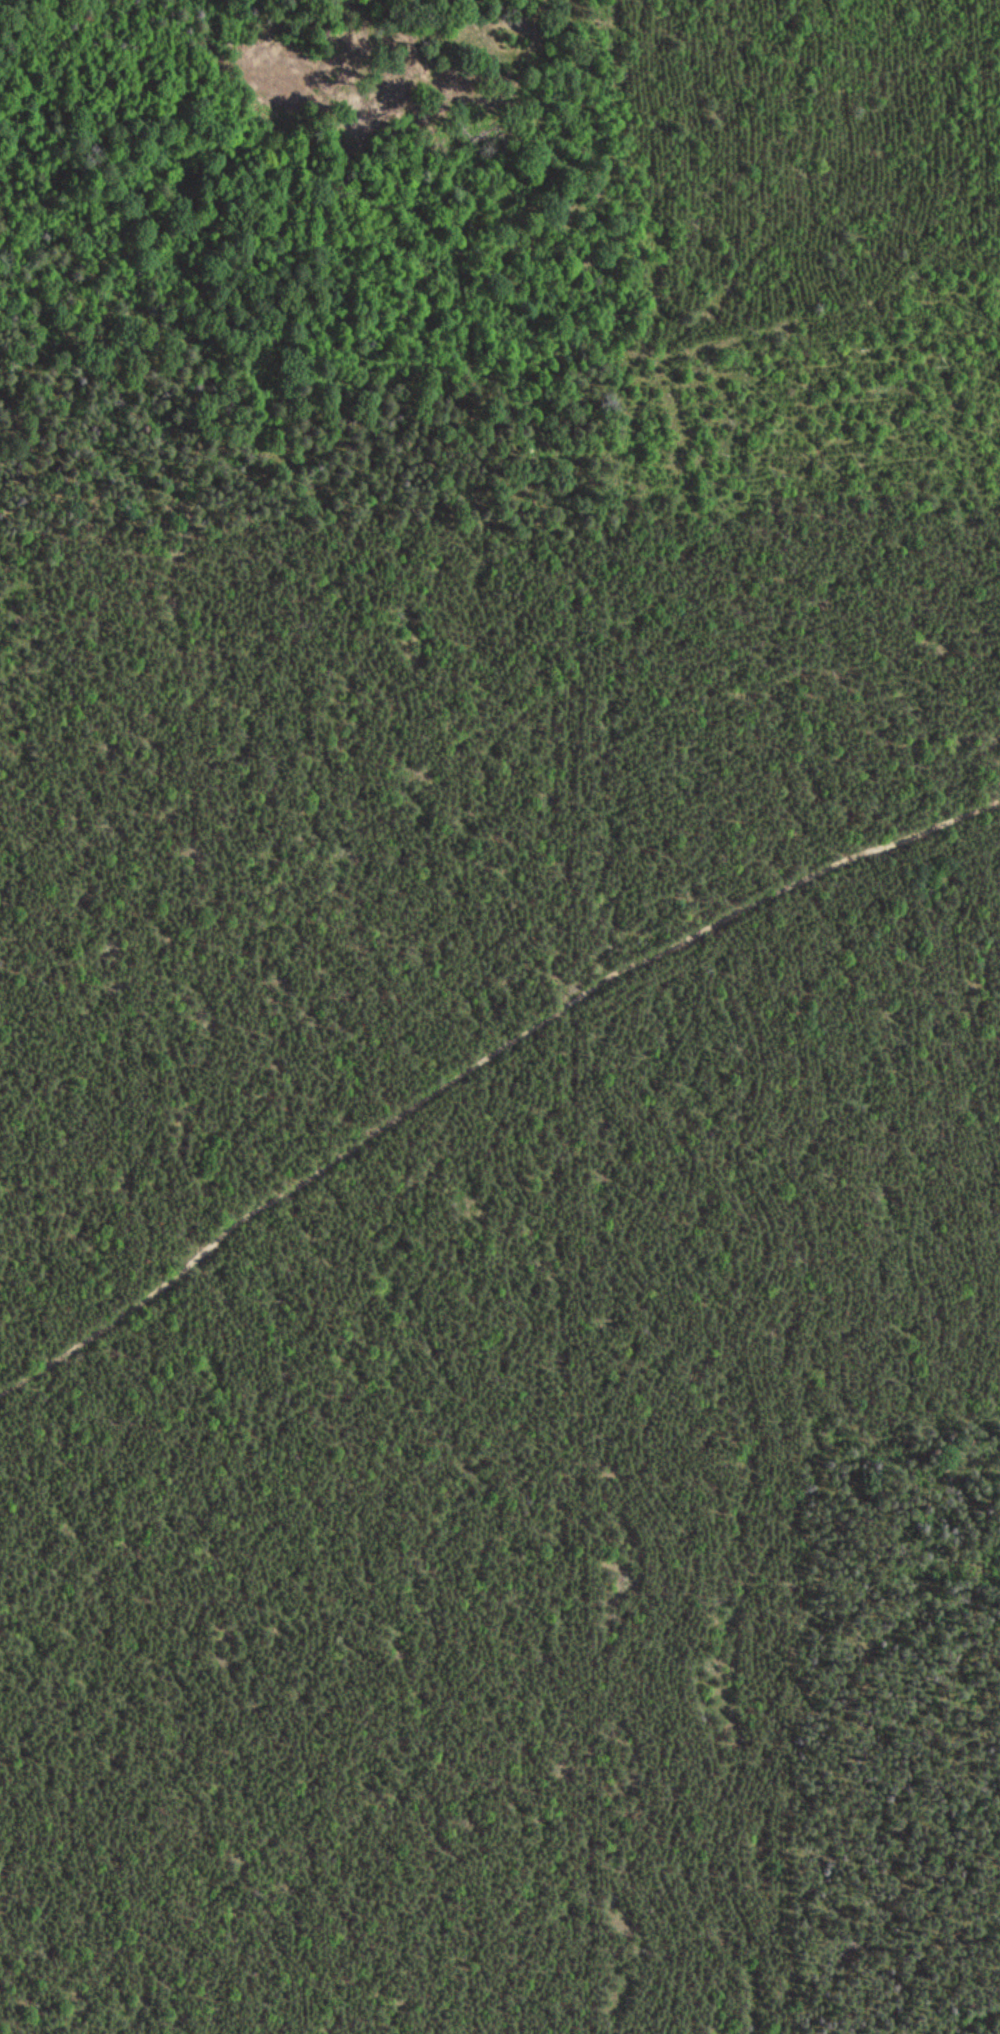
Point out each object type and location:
road: (478, 1067)

